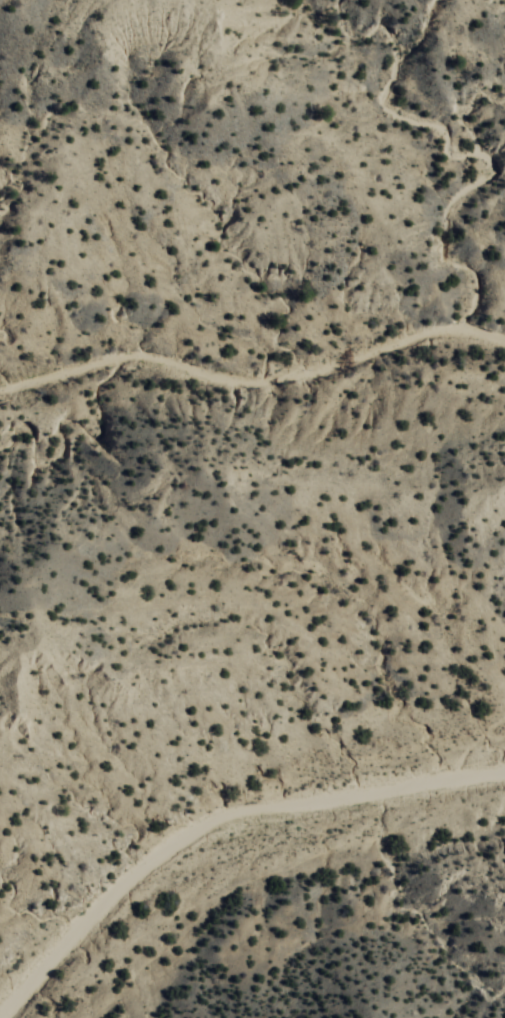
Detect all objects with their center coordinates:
road: (240, 847)

